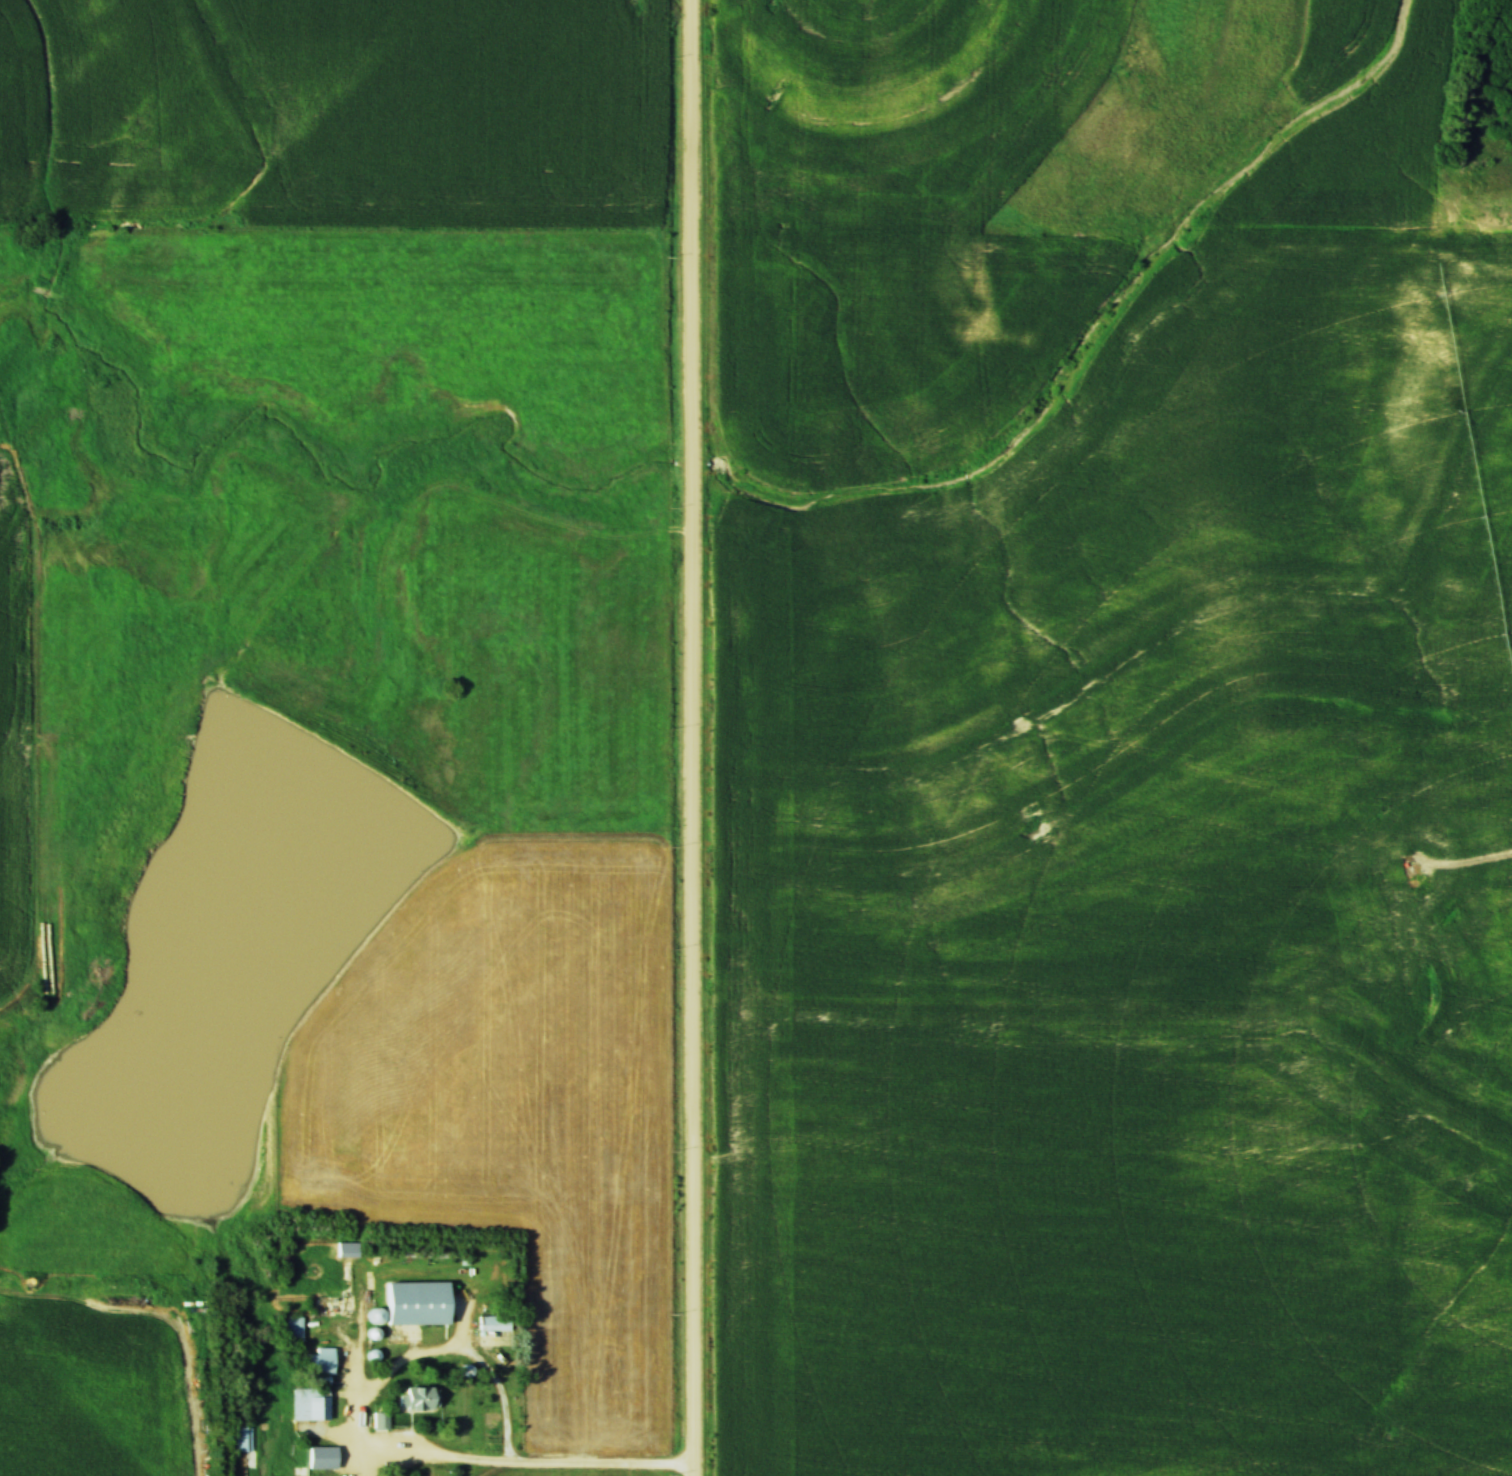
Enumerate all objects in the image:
road: (694, 737)
building: (412, 1302)
building: (493, 1324)
building: (292, 1327)
building: (316, 1365)
building: (416, 1397)
building: (308, 1404)
building: (240, 1439)
building: (311, 1456)
road: (480, 1458)

